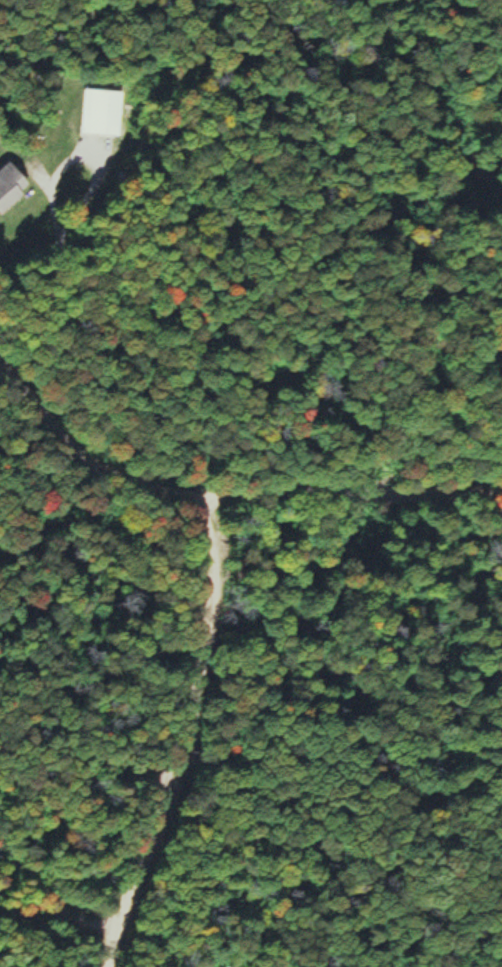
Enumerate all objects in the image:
building: (100, 112)
building: (10, 185)
road: (93, 441)
road: (351, 485)
road: (180, 729)

